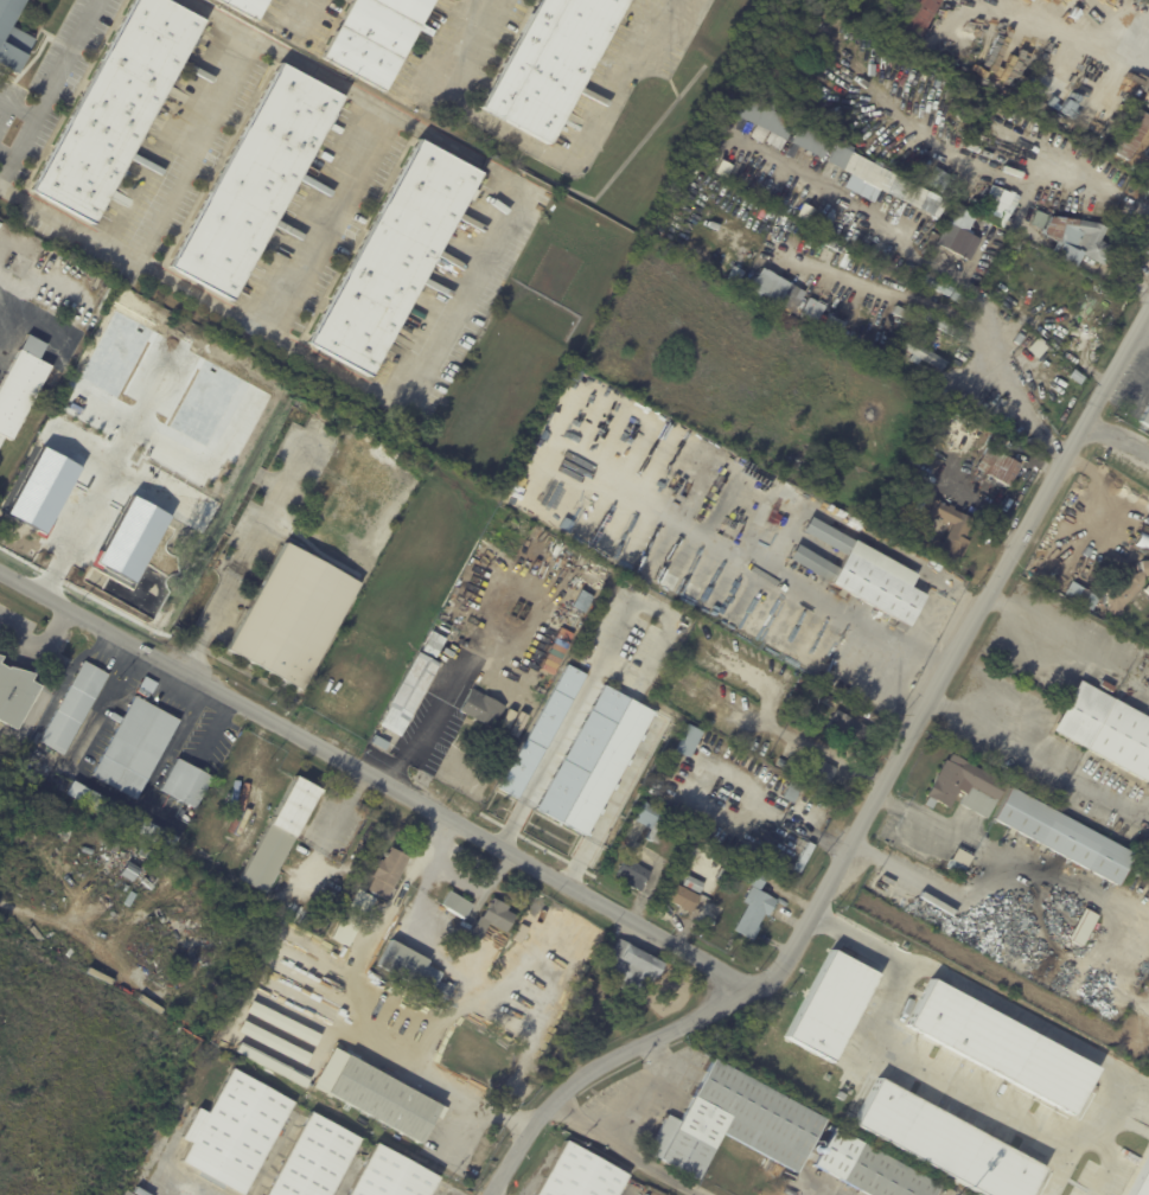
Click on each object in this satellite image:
building: (247, 7)
road: (296, 14)
building: (921, 15)
road: (1057, 30)
building: (12, 37)
building: (376, 38)
building: (551, 63)
road: (46, 87)
building: (117, 106)
road: (15, 107)
building: (759, 117)
road: (372, 121)
road: (166, 132)
building: (1132, 135)
building: (810, 146)
road: (197, 149)
road: (542, 149)
road: (5, 153)
building: (1148, 154)
building: (1110, 166)
building: (257, 180)
building: (749, 180)
building: (892, 183)
building: (537, 188)
building: (785, 199)
building: (996, 203)
building: (815, 216)
building: (847, 232)
building: (934, 238)
building: (1080, 241)
building: (958, 244)
building: (877, 249)
building: (394, 256)
building: (512, 256)
building: (937, 283)
building: (774, 289)
road: (5, 292)
building: (963, 299)
building: (811, 308)
building: (917, 311)
building: (831, 326)
building: (946, 326)
building: (928, 343)
road: (994, 343)
building: (921, 353)
road: (314, 358)
building: (19, 391)
building: (1001, 407)
building: (981, 414)
building: (1145, 417)
road: (1122, 439)
building: (945, 443)
building: (931, 445)
building: (825, 468)
building: (1001, 468)
building: (959, 533)
road: (244, 558)
building: (864, 575)
building: (1123, 588)
building: (1147, 589)
building: (1079, 594)
building: (585, 602)
building: (293, 616)
road: (39, 643)
building: (434, 645)
road: (1068, 653)
building: (0, 659)
building: (633, 675)
building: (804, 680)
building: (1104, 686)
building: (799, 690)
building: (410, 695)
road: (441, 695)
building: (15, 696)
building: (793, 698)
building: (830, 702)
building: (76, 709)
building: (483, 709)
building: (848, 728)
building: (1105, 729)
road: (212, 730)
building: (543, 731)
building: (690, 742)
building: (382, 743)
building: (138, 747)
building: (583, 754)
road: (1043, 756)
building: (783, 763)
building: (822, 772)
building: (186, 784)
road: (379, 786)
road: (107, 787)
building: (964, 787)
building: (792, 792)
road: (611, 803)
road: (338, 812)
road: (869, 814)
building: (125, 816)
building: (652, 822)
building: (283, 835)
building: (1062, 838)
road: (472, 856)
building: (804, 857)
building: (957, 862)
road: (306, 869)
building: (389, 873)
building: (636, 875)
road: (459, 884)
building: (695, 884)
building: (682, 897)
building: (757, 903)
building: (458, 905)
building: (563, 909)
road: (1062, 910)
building: (494, 919)
building: (1081, 927)
road: (862, 939)
building: (411, 966)
building: (636, 966)
building: (457, 982)
building: (212, 984)
building: (445, 991)
building: (830, 1004)
building: (251, 1043)
building: (997, 1046)
road: (1074, 1048)
building: (553, 1052)
building: (1148, 1068)
road: (949, 1082)
road: (657, 1089)
building: (383, 1098)
building: (736, 1123)
building: (235, 1132)
building: (944, 1142)
road: (627, 1150)
building: (317, 1158)
building: (868, 1168)
building: (580, 1174)
building: (392, 1176)
building: (1141, 1180)
building: (949, 1191)

